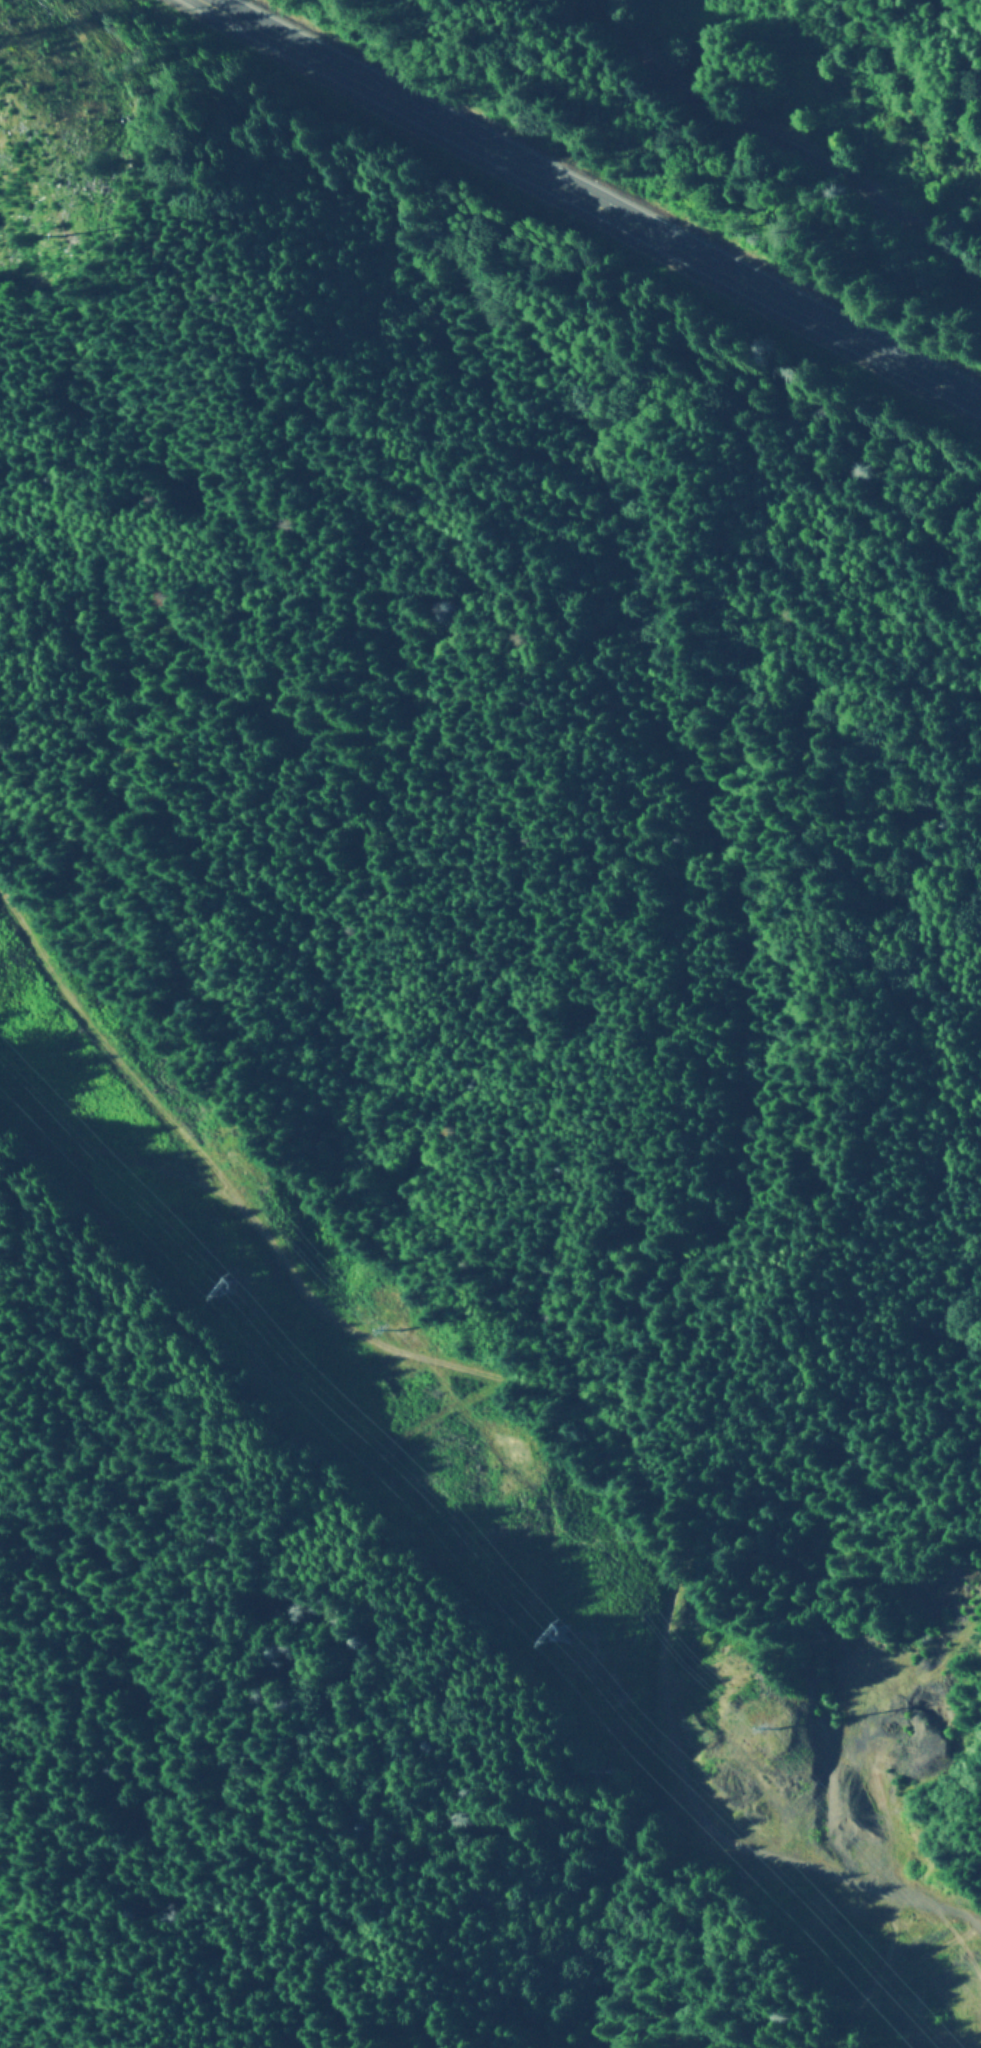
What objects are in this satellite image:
road: (603, 200)
power tower: (233, 1159)
power tower: (233, 1288)
road: (598, 1417)
power tower: (522, 1459)
power tower: (566, 1637)
power tower: (782, 1730)

